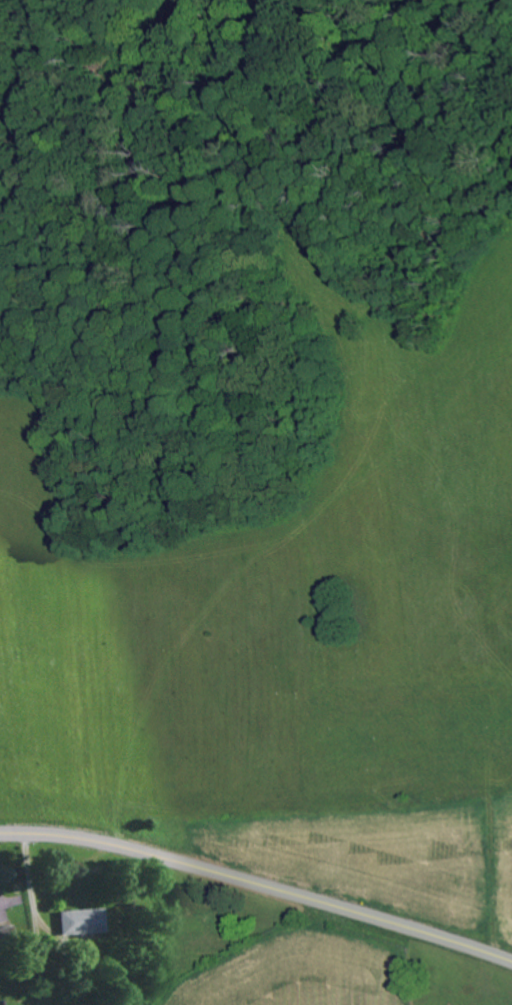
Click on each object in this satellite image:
road: (258, 886)
building: (81, 921)
building: (6, 936)

